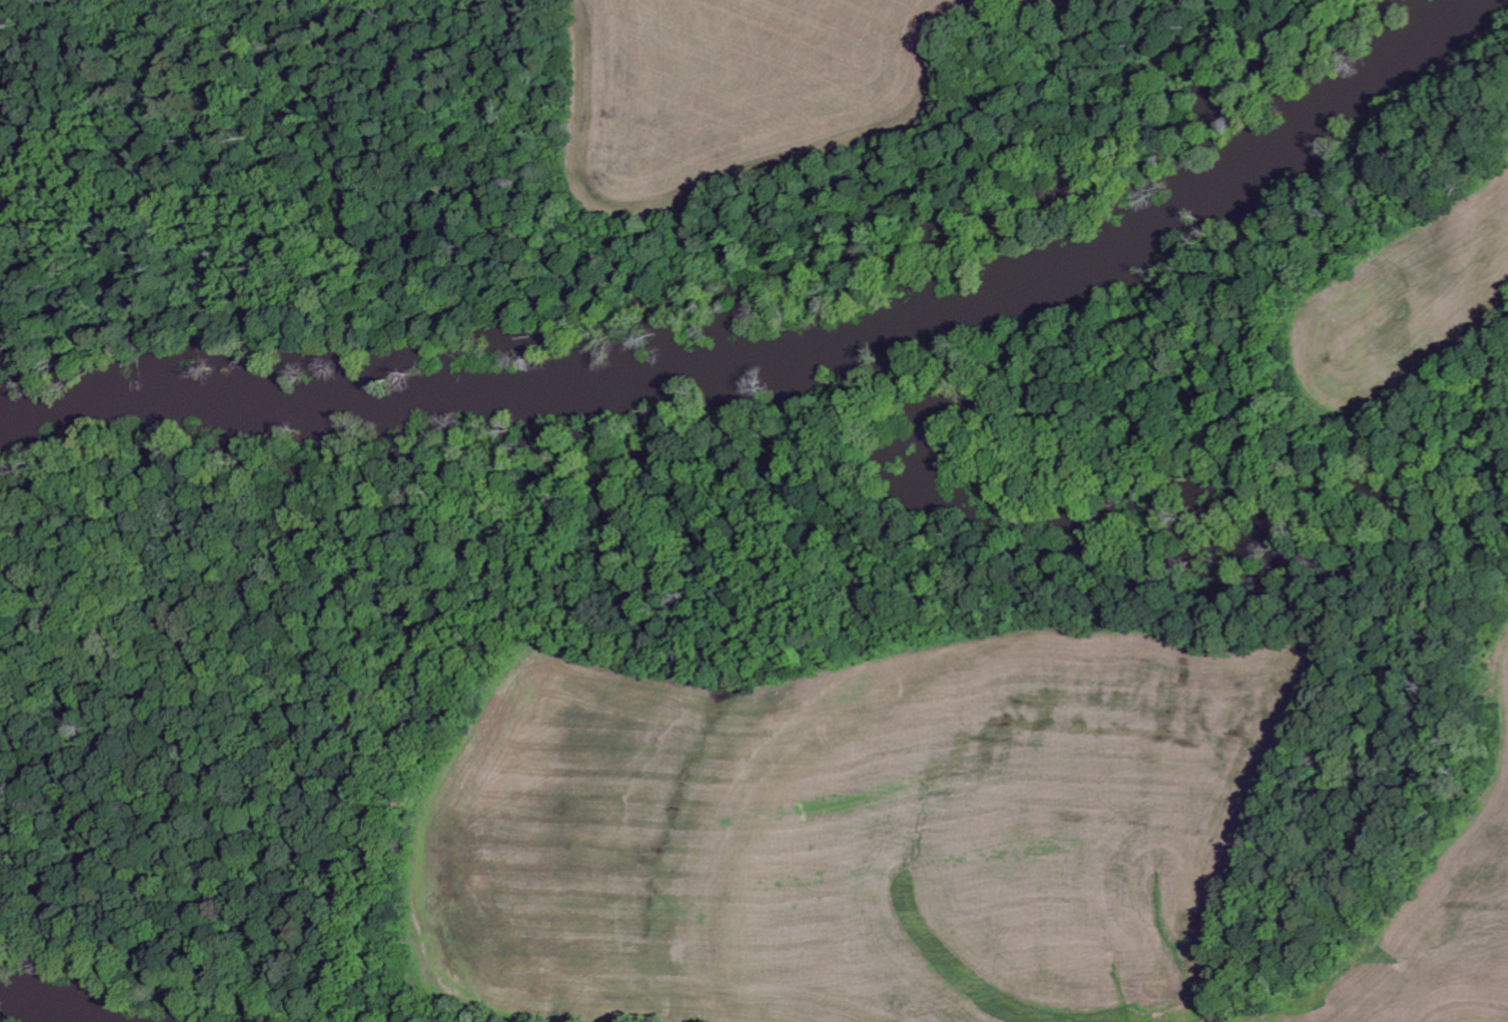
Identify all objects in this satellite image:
river: (785, 355)
river: (50, 1001)

